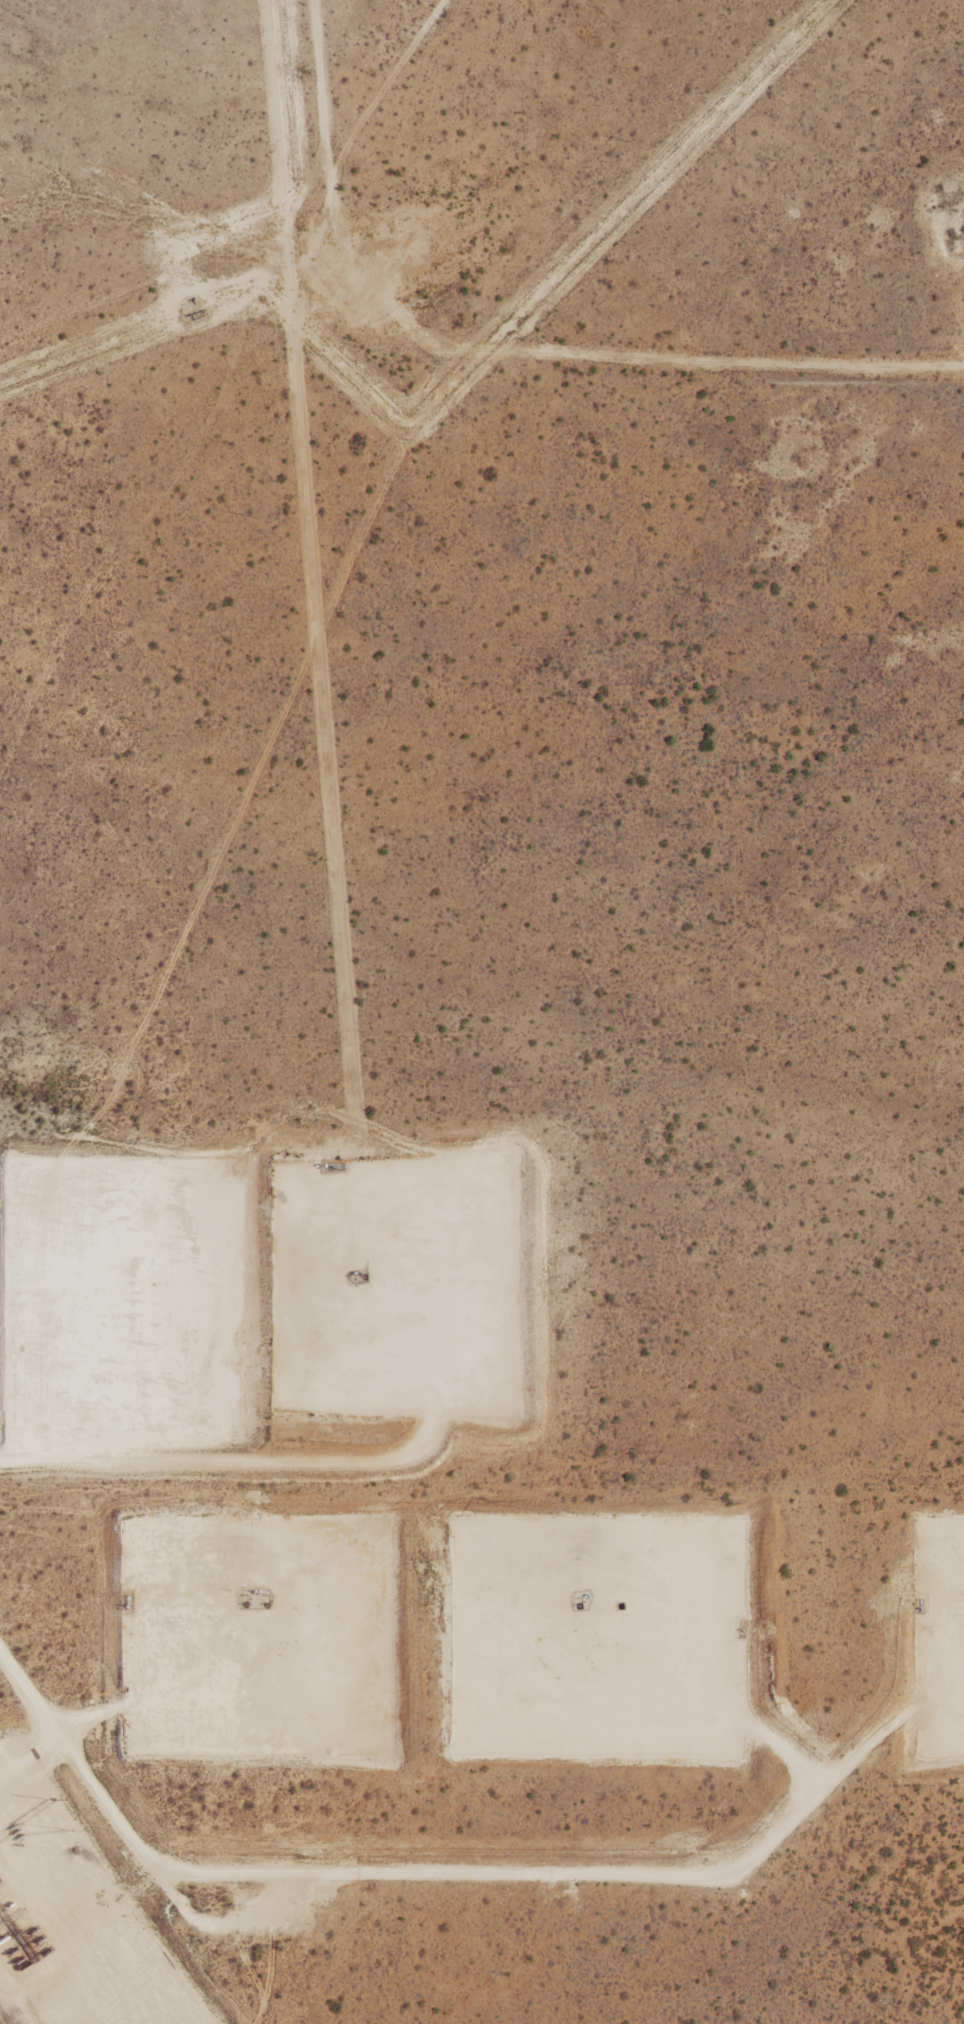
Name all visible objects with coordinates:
petroleum well: (363, 1276)
road: (128, 1318)
road: (265, 1462)
petroleum well: (244, 1604)
petroleum well: (267, 1604)
petroleum well: (579, 1605)
petroleum well: (620, 1605)
road: (715, 1653)
road: (221, 1662)
road: (27, 1754)
road: (79, 1774)
road: (599, 1879)
road: (60, 1913)

